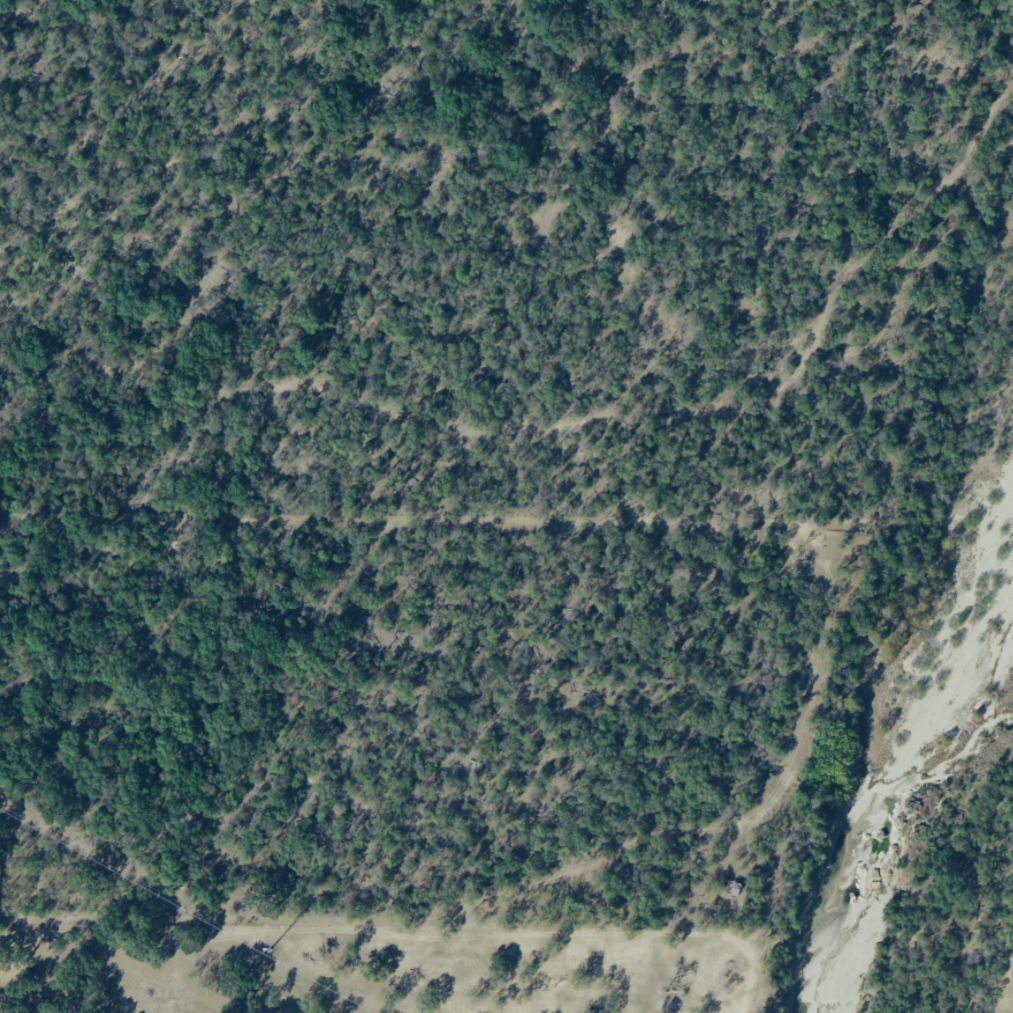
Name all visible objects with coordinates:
building: (734, 890)
power tower: (270, 949)

